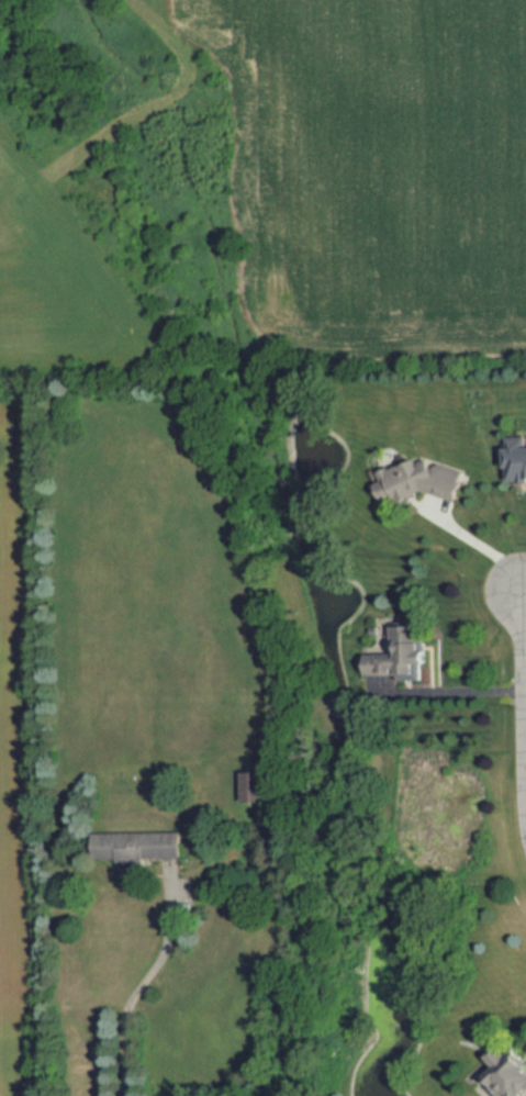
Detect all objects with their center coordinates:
building: (515, 458)
building: (417, 480)
road: (477, 544)
road: (524, 590)
building: (400, 652)
road: (446, 690)
road: (522, 712)
road: (524, 737)
building: (251, 784)
building: (134, 845)
road: (141, 984)
building: (506, 1072)

